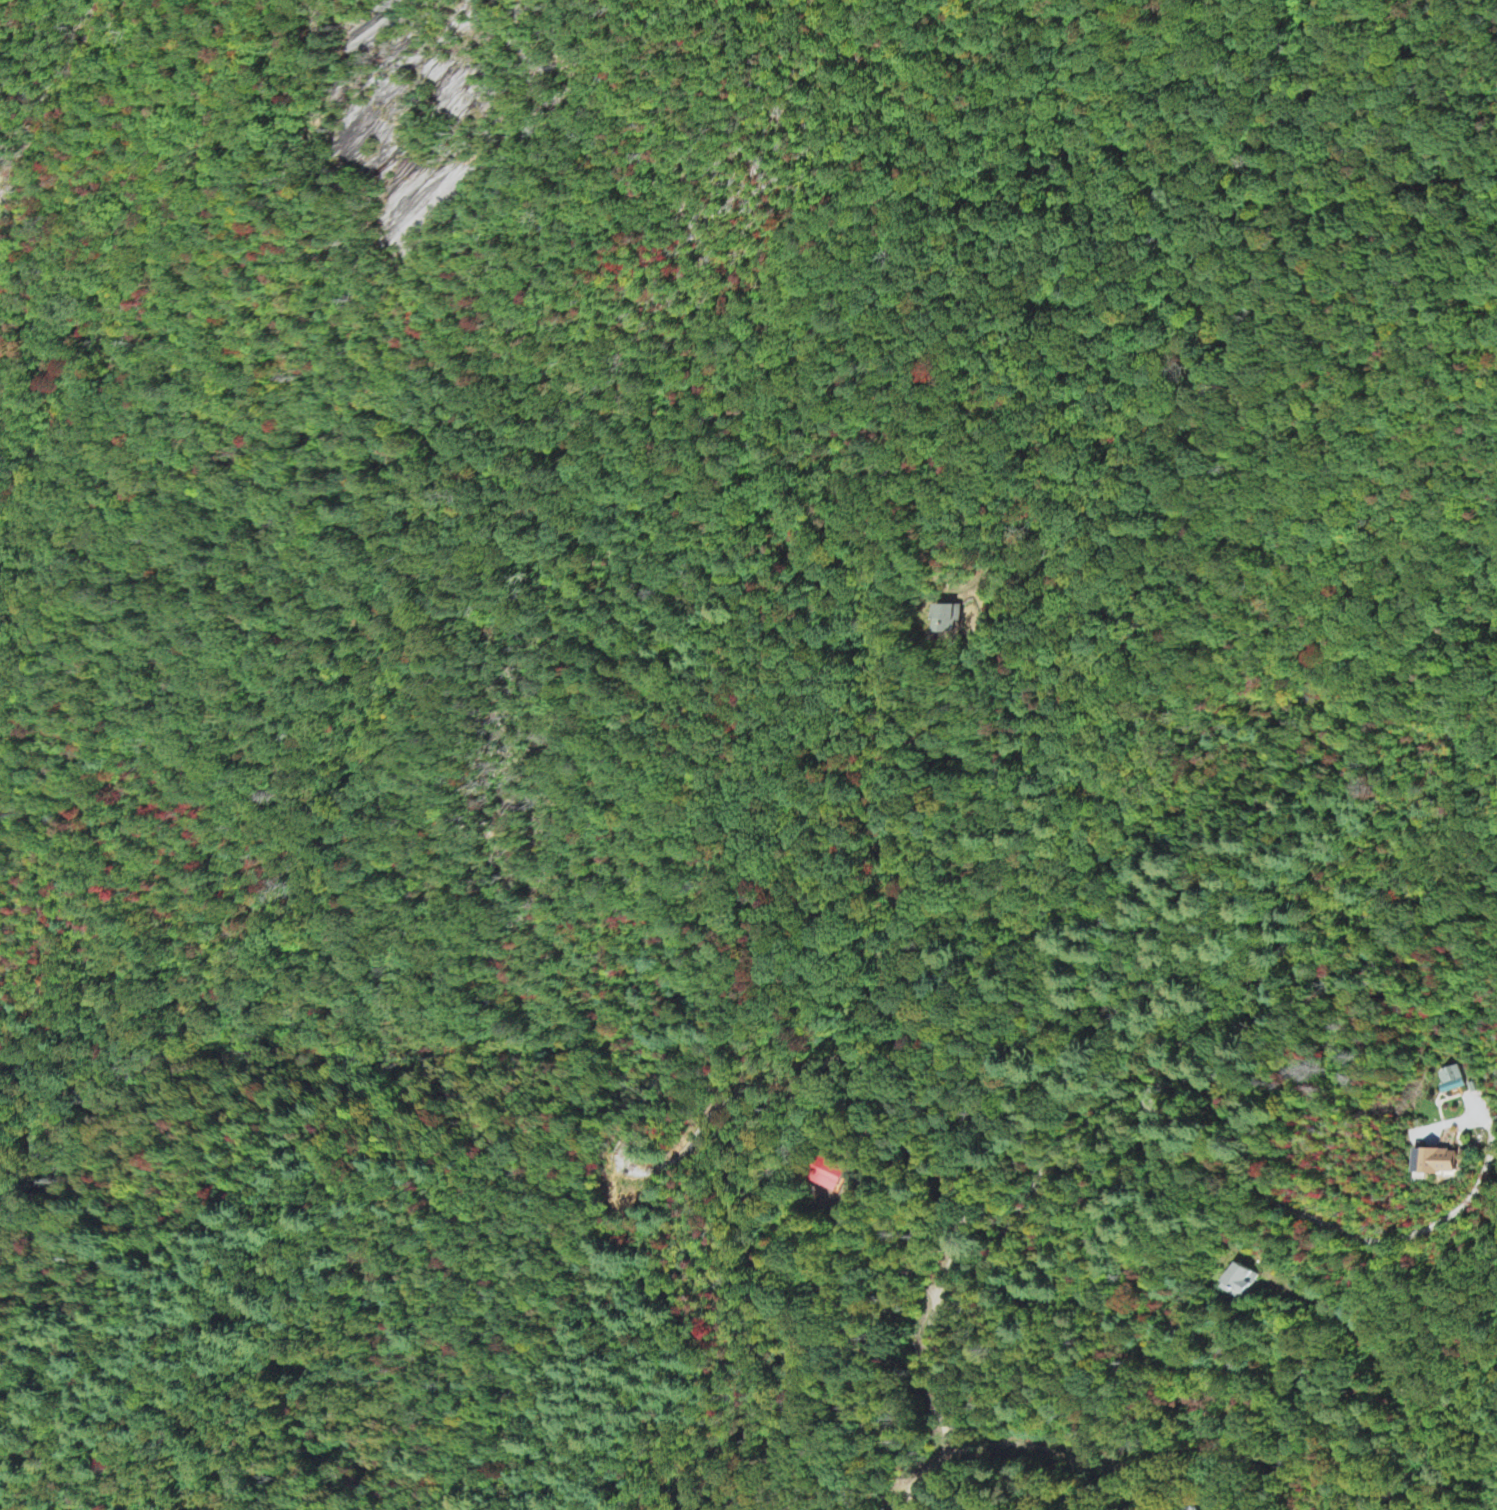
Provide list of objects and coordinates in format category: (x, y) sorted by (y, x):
building: (951, 620)
building: (1453, 1082)
building: (1440, 1163)
building: (833, 1178)
building: (1242, 1284)

